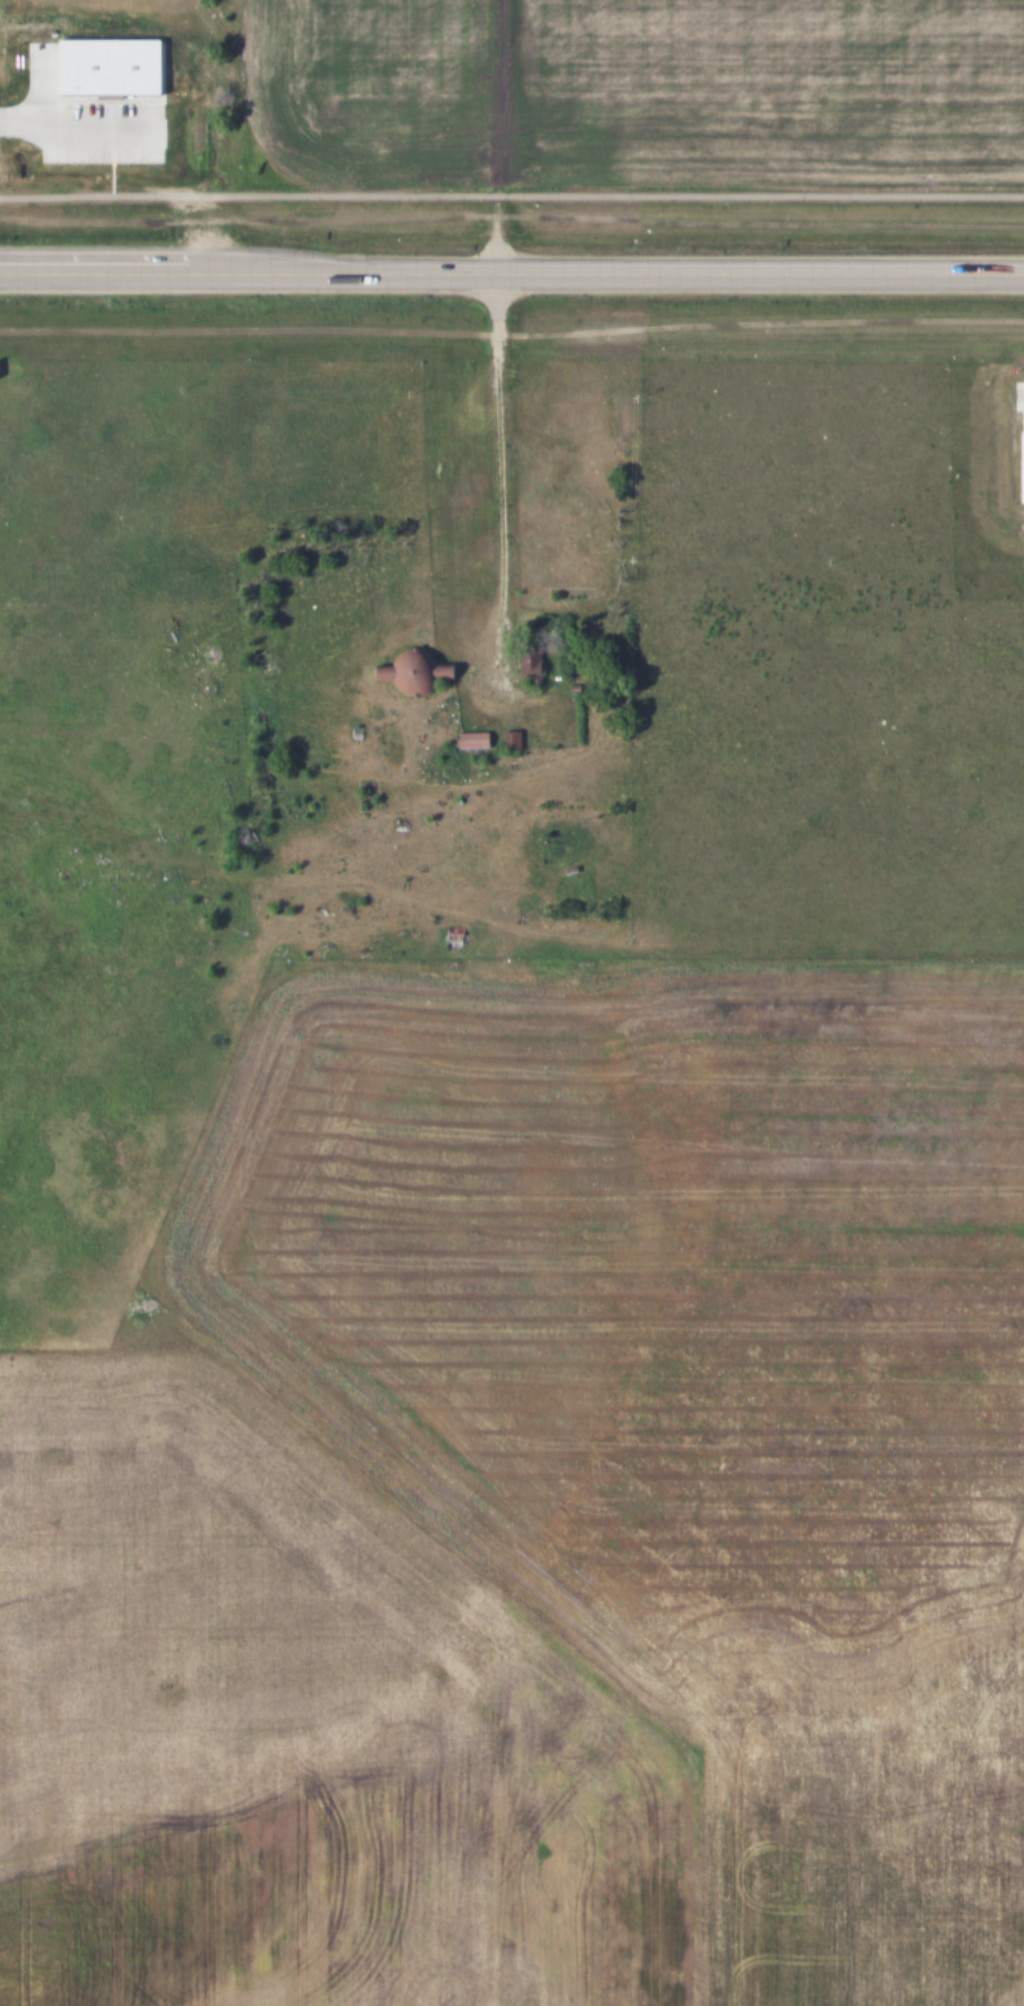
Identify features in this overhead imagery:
building: (49, 135)
building: (71, 152)
road: (136, 168)
road: (511, 195)
road: (93, 269)
road: (605, 272)
road: (500, 481)
building: (523, 662)
building: (408, 670)
building: (569, 687)
building: (351, 731)
building: (505, 736)
building: (467, 738)
building: (564, 870)
building: (448, 938)

